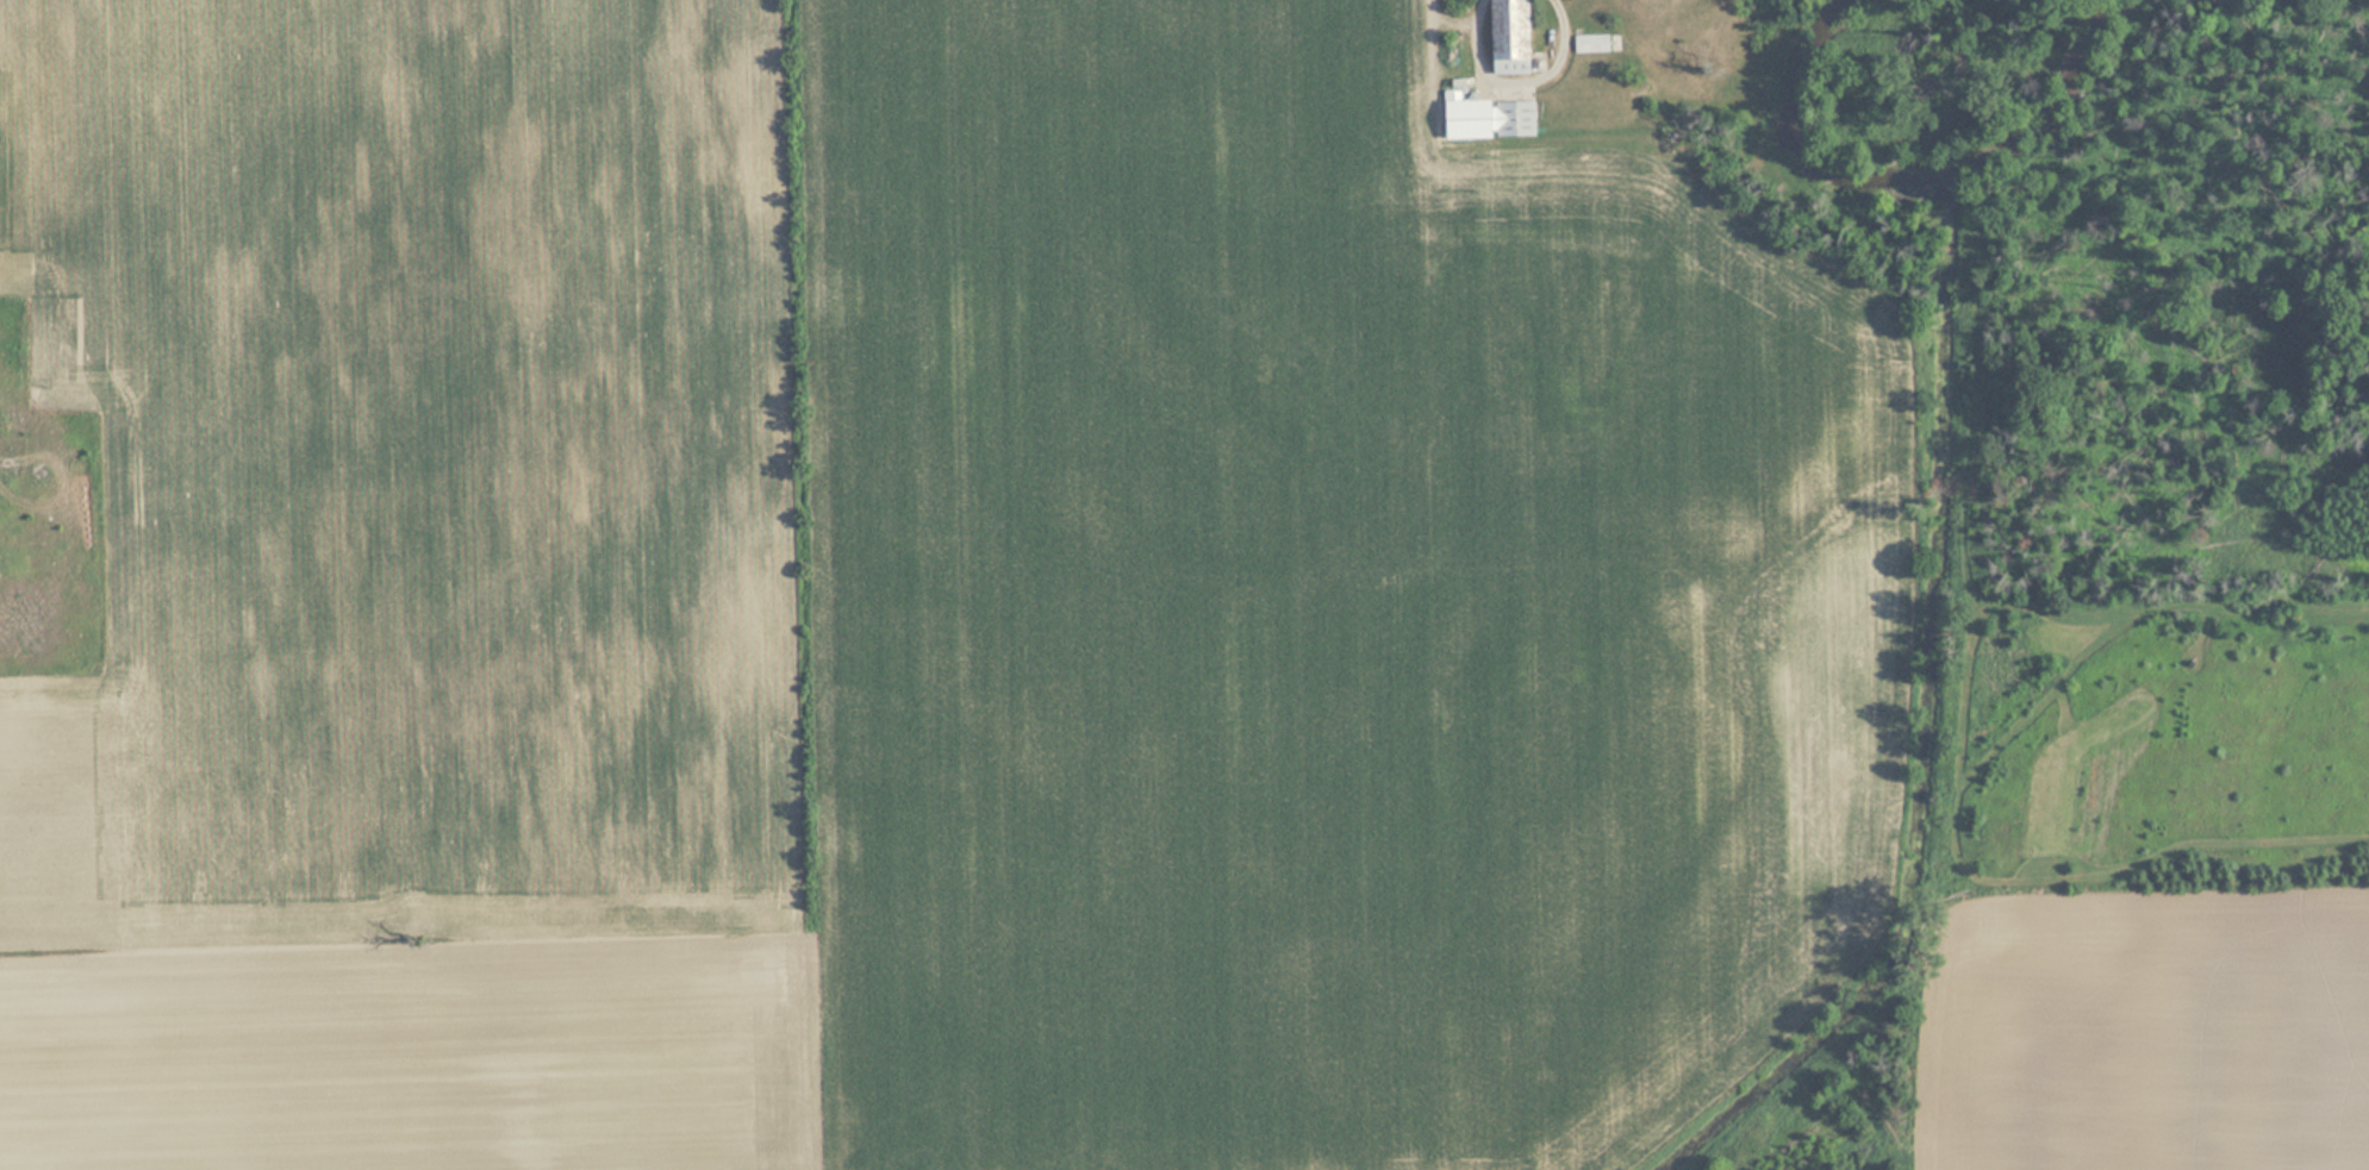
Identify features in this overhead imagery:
building: (1503, 37)
building: (1589, 44)
building: (1510, 119)
river: (1938, 159)

